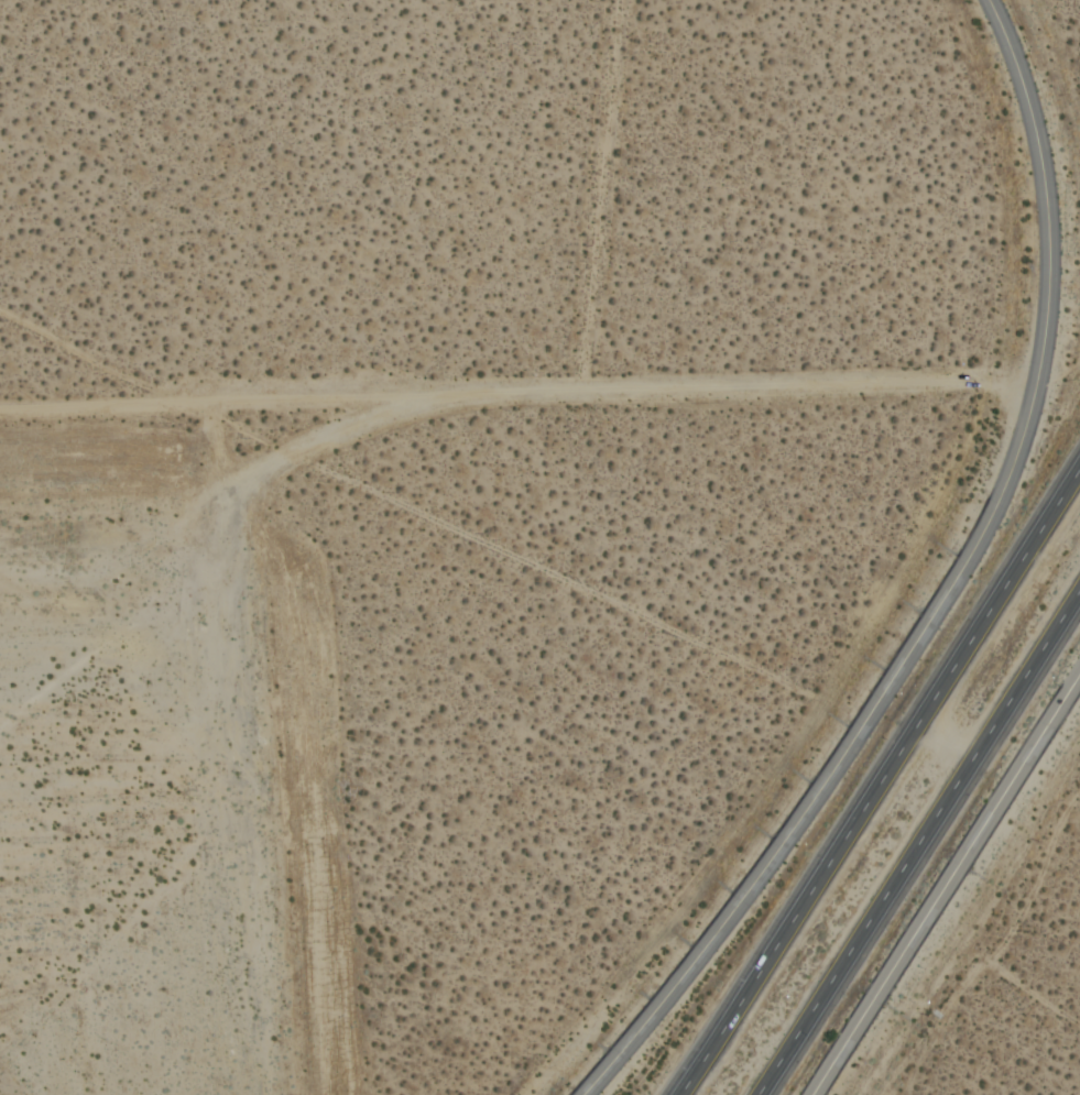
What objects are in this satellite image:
road: (599, 195)
road: (522, 392)
road: (949, 591)
road: (880, 778)
road: (918, 840)
road: (945, 885)

